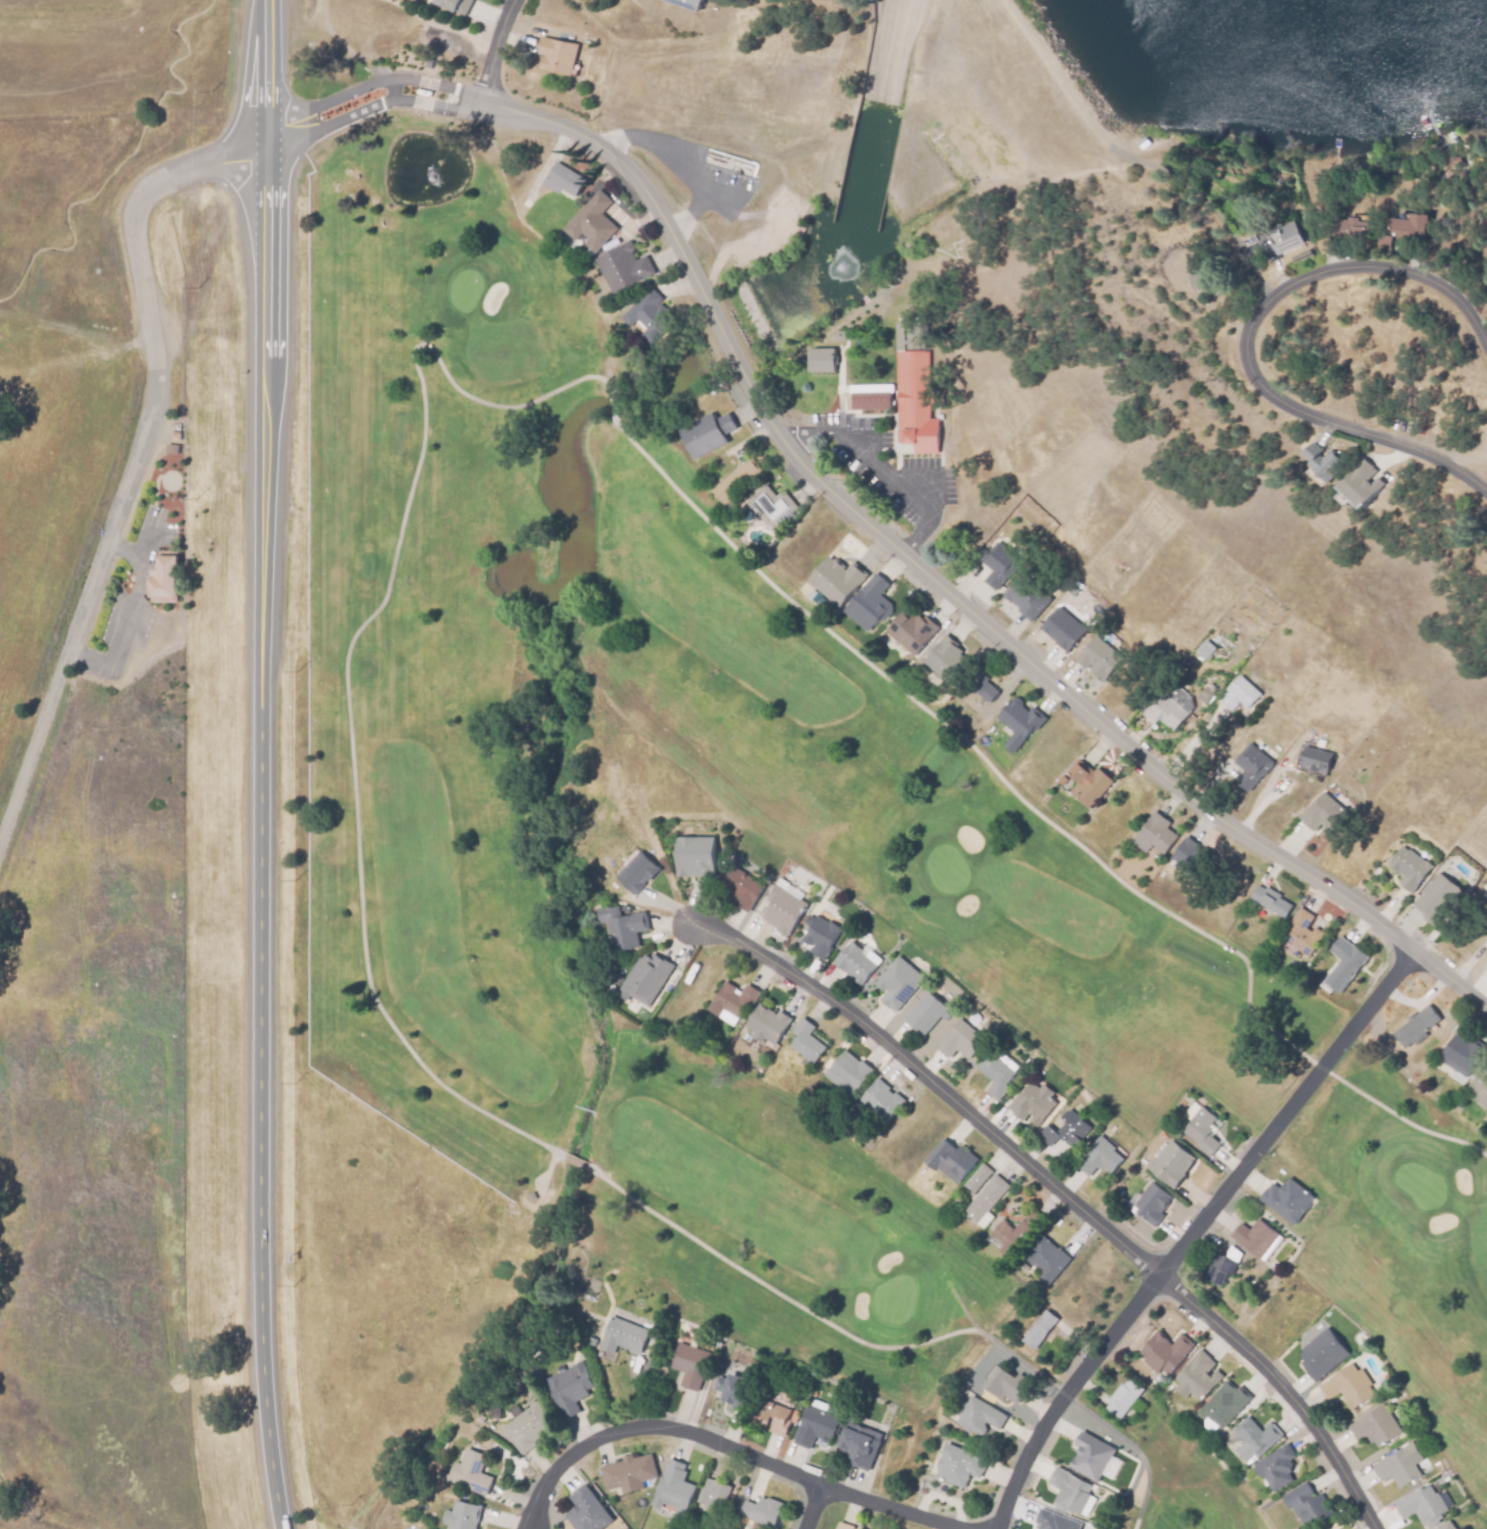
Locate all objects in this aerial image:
building: (688, 3)
building: (454, 5)
road: (495, 50)
building: (555, 54)
road: (670, 158)
parking lot: (695, 175)
building: (564, 178)
road: (690, 212)
building: (590, 220)
building: (1401, 228)
building: (1349, 229)
building: (1280, 237)
building: (622, 266)
building: (648, 314)
road: (76, 329)
road: (1244, 335)
building: (821, 362)
building: (868, 395)
building: (914, 402)
road: (612, 408)
building: (706, 431)
building: (175, 435)
building: (171, 448)
road: (132, 458)
building: (1321, 461)
road: (879, 468)
building: (736, 480)
building: (1358, 482)
building: (173, 505)
building: (769, 505)
road: (851, 511)
road: (125, 550)
building: (1000, 560)
building: (162, 578)
building: (836, 579)
building: (1025, 597)
building: (868, 603)
road: (126, 618)
building: (911, 629)
building: (1060, 630)
building: (1205, 649)
building: (1096, 659)
building: (945, 660)
building: (981, 685)
building: (1204, 694)
building: (1241, 696)
building: (1168, 709)
park: (439, 712)
building: (1017, 722)
building: (1316, 758)
building: (1251, 761)
road: (261, 765)
building: (1087, 783)
building: (1326, 814)
building: (1155, 833)
building: (1186, 853)
building: (694, 854)
building: (1409, 866)
building: (637, 872)
building: (740, 888)
building: (1436, 896)
building: (1270, 900)
building: (782, 910)
building: (621, 925)
building: (1303, 933)
building: (821, 934)
building: (858, 962)
building: (1344, 963)
building: (1485, 966)
building: (644, 977)
building: (898, 981)
building: (733, 1000)
building: (924, 1014)
building: (766, 1025)
building: (1417, 1027)
building: (959, 1041)
building: (805, 1042)
building: (1460, 1057)
building: (847, 1073)
building: (994, 1075)
building: (1479, 1088)
building: (1033, 1103)
building: (879, 1104)
building: (1068, 1131)
building: (1201, 1131)
building: (1098, 1158)
road: (575, 1162)
building: (951, 1162)
building: (1171, 1165)
building: (975, 1180)
road: (1062, 1193)
building: (985, 1199)
building: (1287, 1201)
building: (1151, 1205)
road: (1192, 1235)
building: (1003, 1238)
building: (1254, 1239)
building: (1045, 1261)
building: (1221, 1269)
road: (819, 1317)
building: (1039, 1330)
building: (622, 1336)
building: (1163, 1352)
building: (1321, 1354)
building: (689, 1365)
building: (1196, 1377)
building: (1007, 1384)
building: (733, 1385)
building: (1348, 1386)
building: (568, 1388)
building: (1121, 1398)
building: (1223, 1404)
building: (771, 1414)
building: (793, 1415)
building: (978, 1415)
building: (815, 1425)
building: (1376, 1425)
building: (528, 1427)
building: (1255, 1439)
road: (728, 1445)
building: (858, 1445)
building: (1090, 1456)
building: (958, 1464)
building: (1399, 1466)
building: (1274, 1469)
building: (470, 1472)
building: (628, 1473)
building: (441, 1476)
building: (671, 1488)
building: (1069, 1489)
building: (712, 1494)
building: (1421, 1504)
building: (1306, 1505)
road: (812, 1507)
building: (586, 1511)
building: (760, 1511)
park: (1194, 1511)
building: (461, 1516)
building: (1054, 1521)
building: (844, 1526)
building: (1446, 1526)
building: (1316, 1528)

